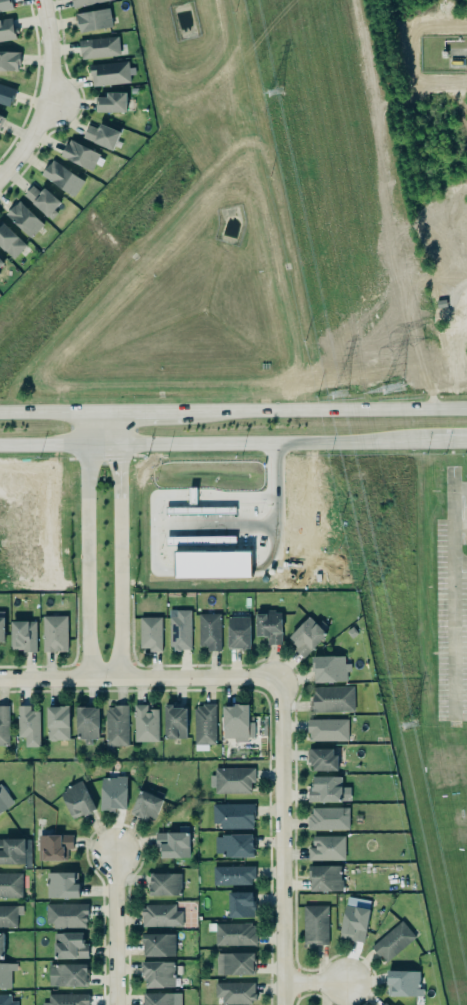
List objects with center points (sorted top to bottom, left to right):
building: (85, 2)
building: (5, 5)
building: (93, 20)
building: (6, 30)
road: (46, 46)
building: (97, 47)
building: (8, 60)
building: (107, 73)
power tower: (276, 87)
building: (5, 95)
building: (111, 103)
building: (1, 119)
building: (100, 135)
road: (27, 137)
building: (78, 152)
building: (60, 178)
building: (42, 201)
building: (24, 219)
building: (9, 237)
building: (1, 264)
power tower: (390, 390)
power tower: (336, 392)
road: (329, 408)
road: (155, 412)
road: (59, 413)
road: (118, 428)
road: (87, 429)
road: (447, 440)
road: (272, 443)
road: (102, 444)
road: (43, 445)
road: (243, 496)
road: (262, 523)
road: (452, 525)
road: (459, 525)
road: (120, 562)
road: (87, 563)
building: (213, 565)
parking lot: (451, 600)
building: (268, 624)
building: (178, 628)
building: (208, 630)
building: (237, 630)
building: (0, 631)
building: (150, 632)
building: (19, 634)
building: (54, 634)
building: (306, 636)
road: (453, 646)
building: (328, 667)
road: (140, 680)
building: (331, 698)
building: (56, 721)
building: (235, 721)
building: (174, 722)
building: (86, 723)
building: (27, 724)
building: (145, 724)
building: (3, 725)
power tower: (409, 725)
building: (115, 727)
building: (327, 730)
building: (321, 757)
building: (232, 779)
building: (327, 788)
building: (113, 792)
building: (3, 801)
building: (77, 801)
building: (145, 806)
building: (233, 816)
building: (327, 817)
road: (283, 842)
building: (173, 844)
building: (233, 844)
building: (53, 845)
building: (326, 847)
building: (15, 852)
building: (232, 874)
building: (324, 876)
building: (164, 883)
building: (7, 885)
building: (61, 885)
building: (240, 903)
building: (65, 914)
building: (9, 916)
building: (160, 916)
building: (354, 918)
building: (315, 925)
road: (114, 927)
building: (233, 933)
building: (391, 940)
building: (157, 943)
building: (1, 946)
building: (69, 946)
building: (233, 962)
building: (6, 974)
building: (67, 975)
building: (158, 975)
building: (402, 981)
road: (315, 983)
building: (234, 992)
building: (66, 999)
building: (158, 999)
building: (6, 1000)
building: (384, 1004)

